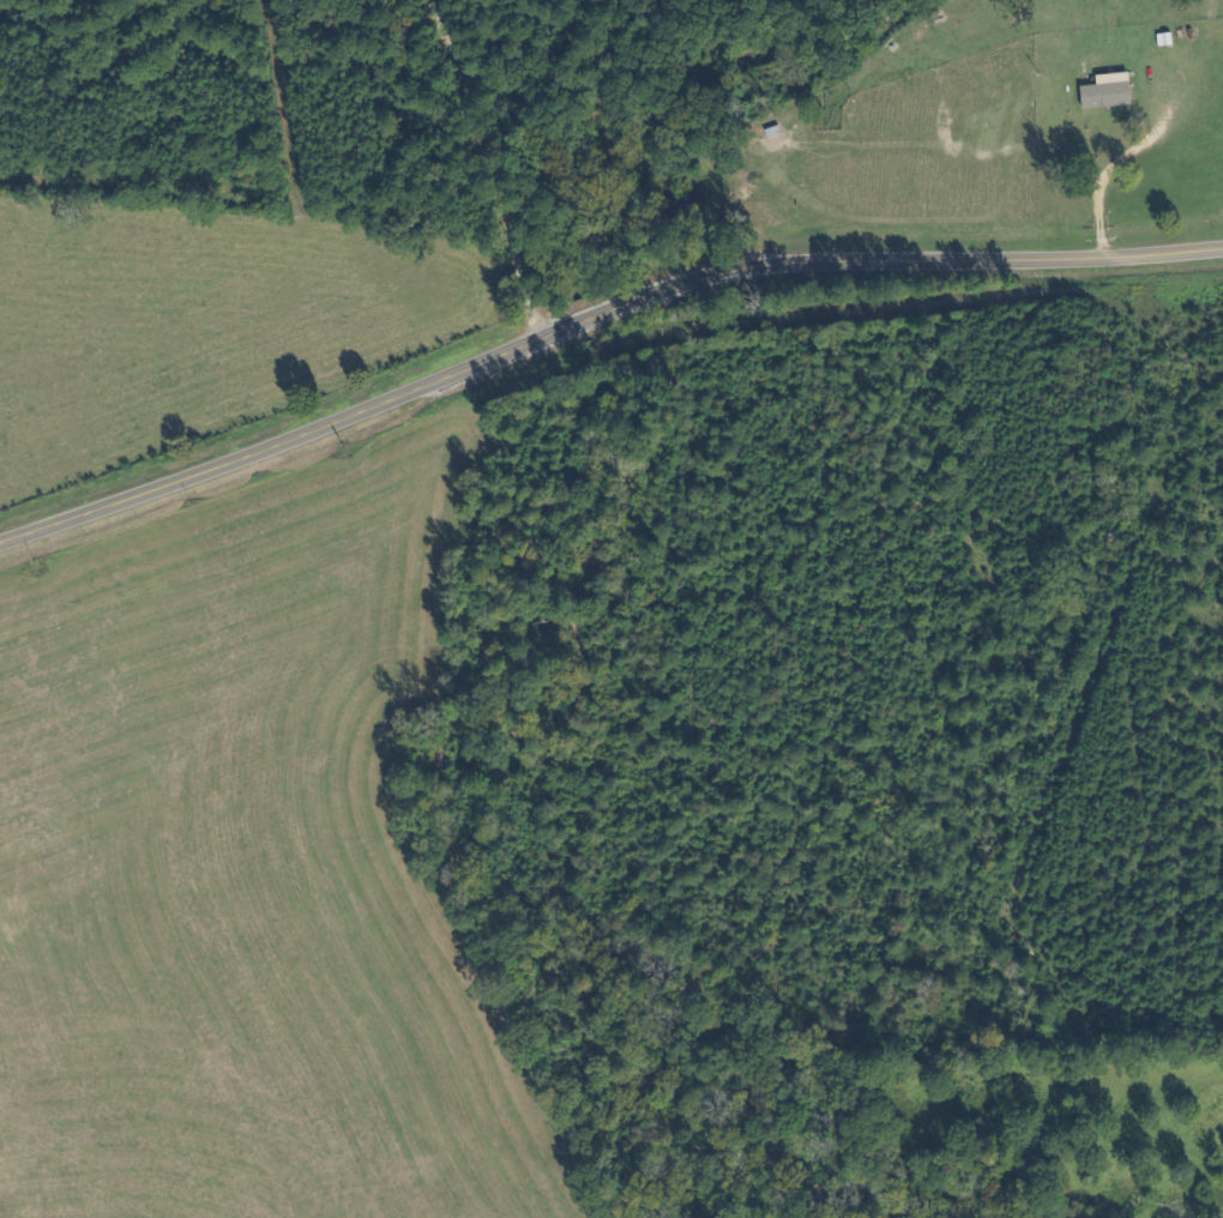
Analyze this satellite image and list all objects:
building: (1094, 140)
road: (595, 316)

